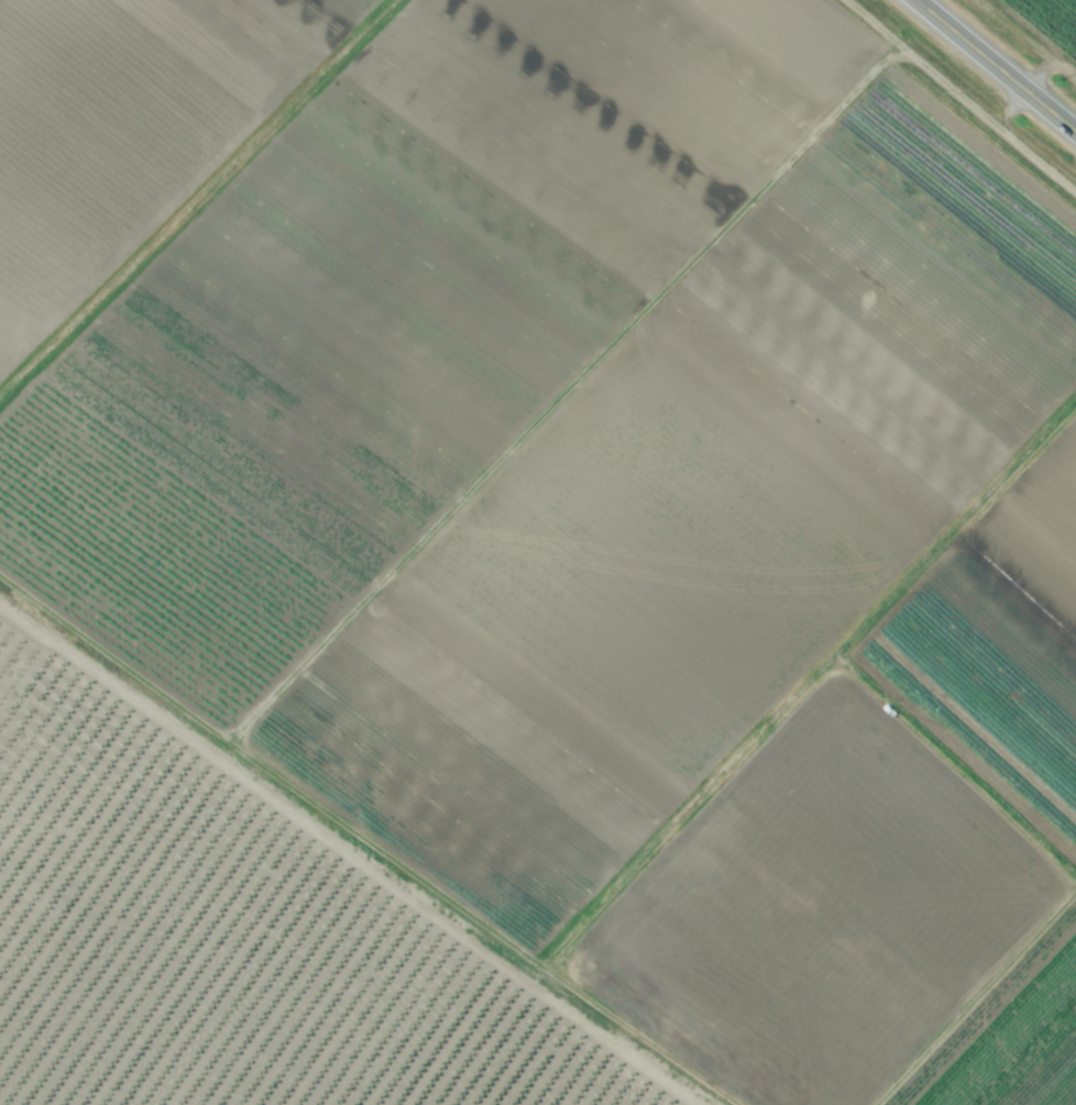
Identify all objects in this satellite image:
crop: (1046, 23)
road: (995, 66)
crop: (531, 557)

